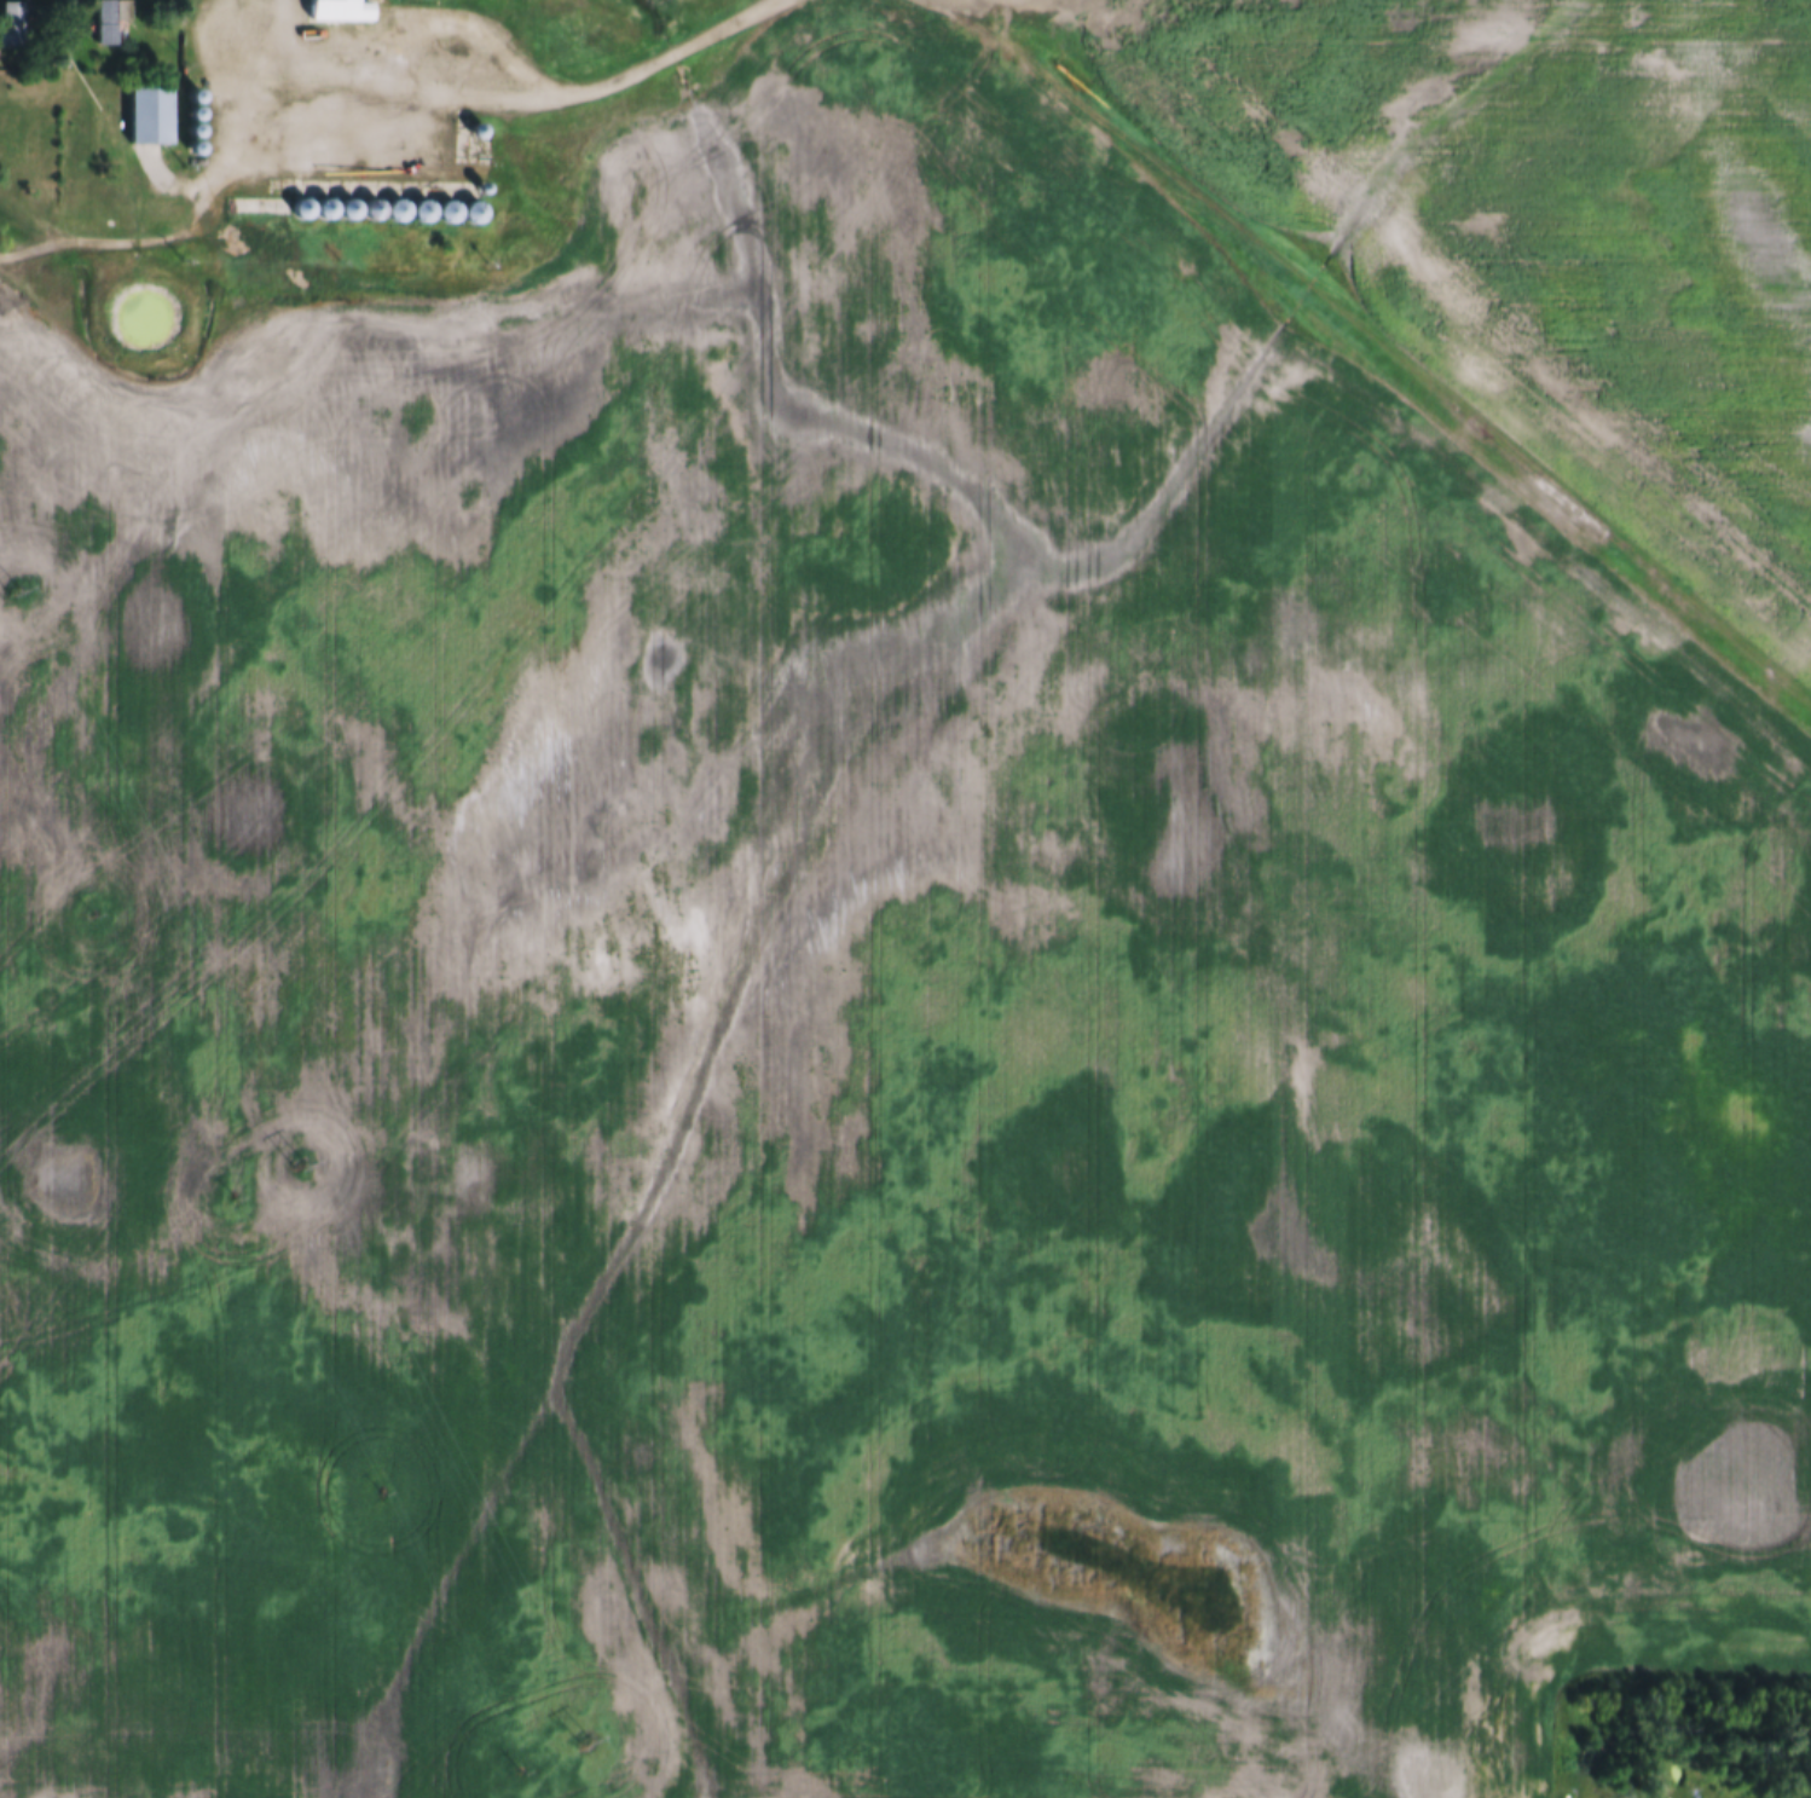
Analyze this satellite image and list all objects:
road: (941, 5)
road: (951, 5)
building: (335, 11)
road: (971, 13)
building: (109, 23)
building: (10, 25)
road: (525, 91)
road: (244, 118)
road: (92, 242)
airport runway: (1404, 358)
power tower: (7, 588)
power tower: (294, 1164)
power tower: (579, 1738)

